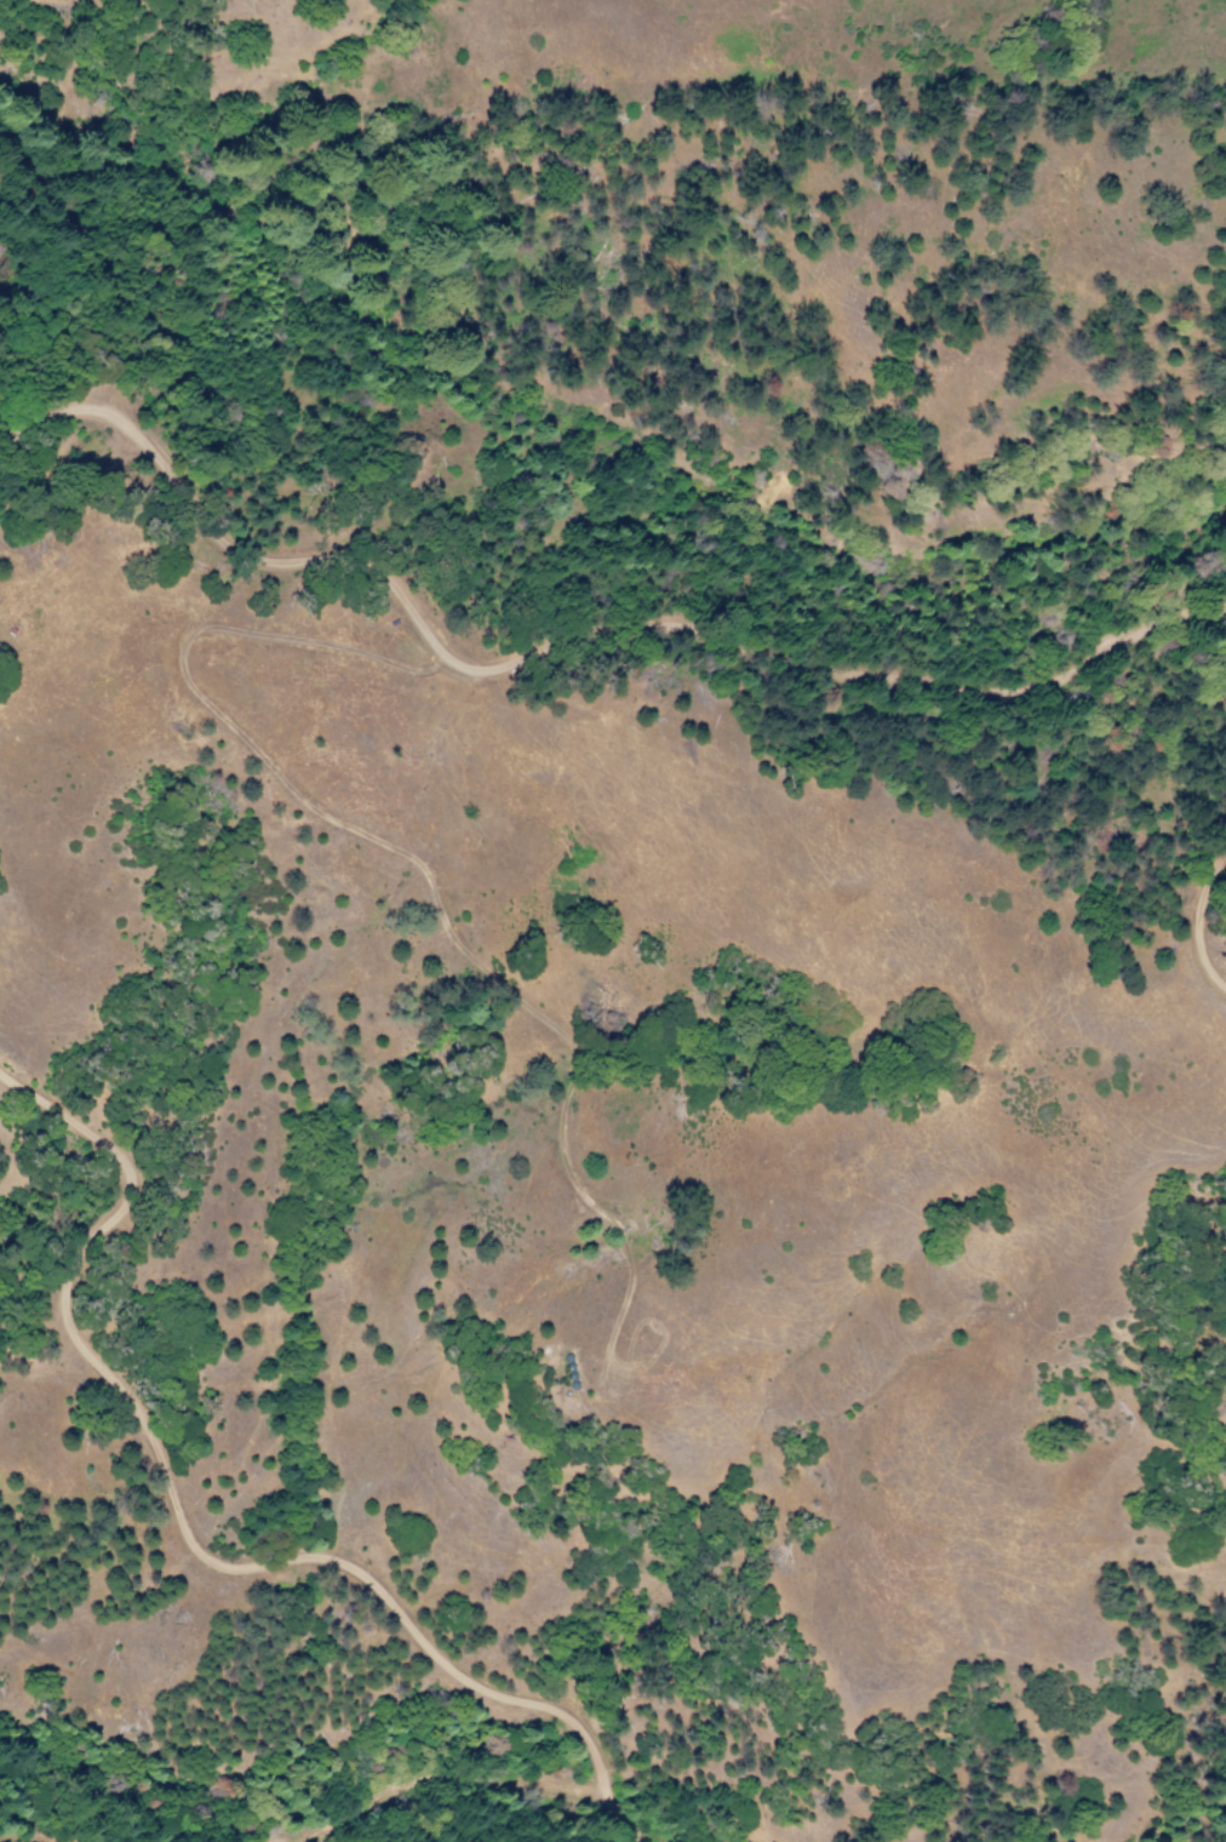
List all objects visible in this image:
road: (568, 645)
road: (1203, 927)
road: (185, 1527)
road: (636, 1831)

